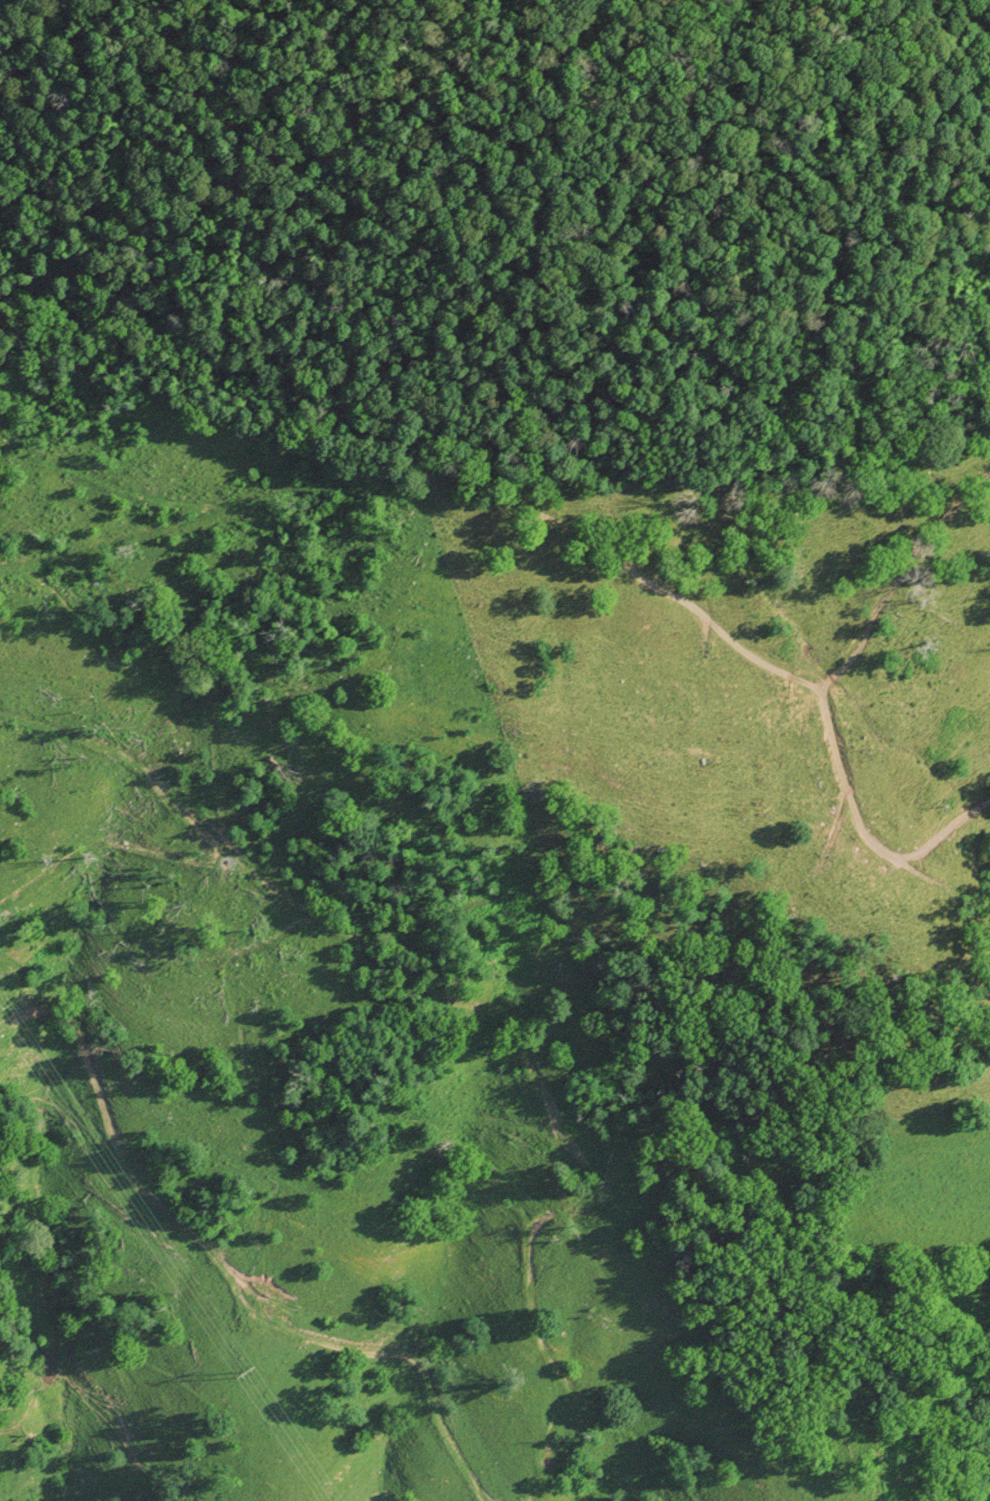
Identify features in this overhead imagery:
road: (621, 566)
road: (895, 579)

